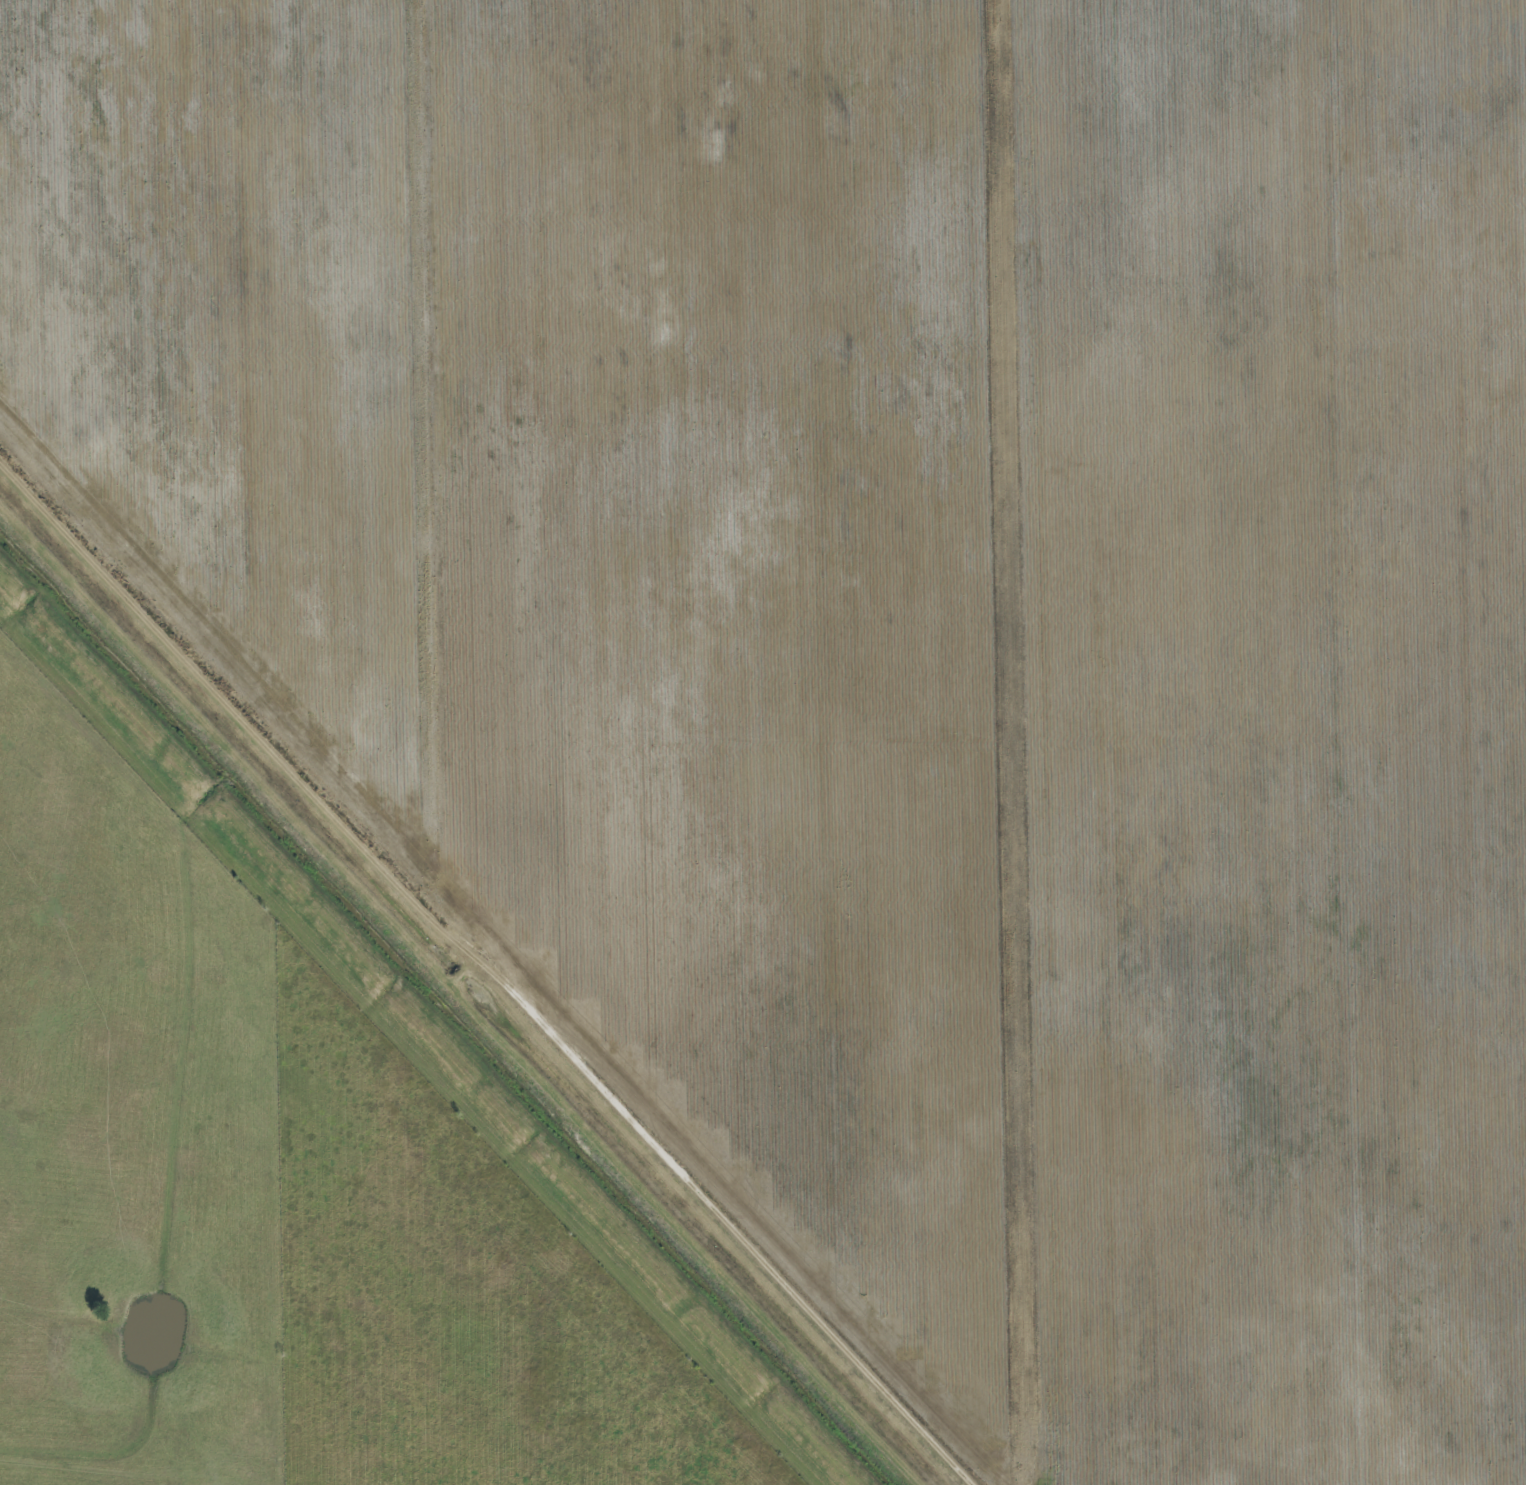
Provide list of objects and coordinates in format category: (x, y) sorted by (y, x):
road: (435, 463)
road: (1019, 742)
road: (1342, 818)
road: (483, 970)

